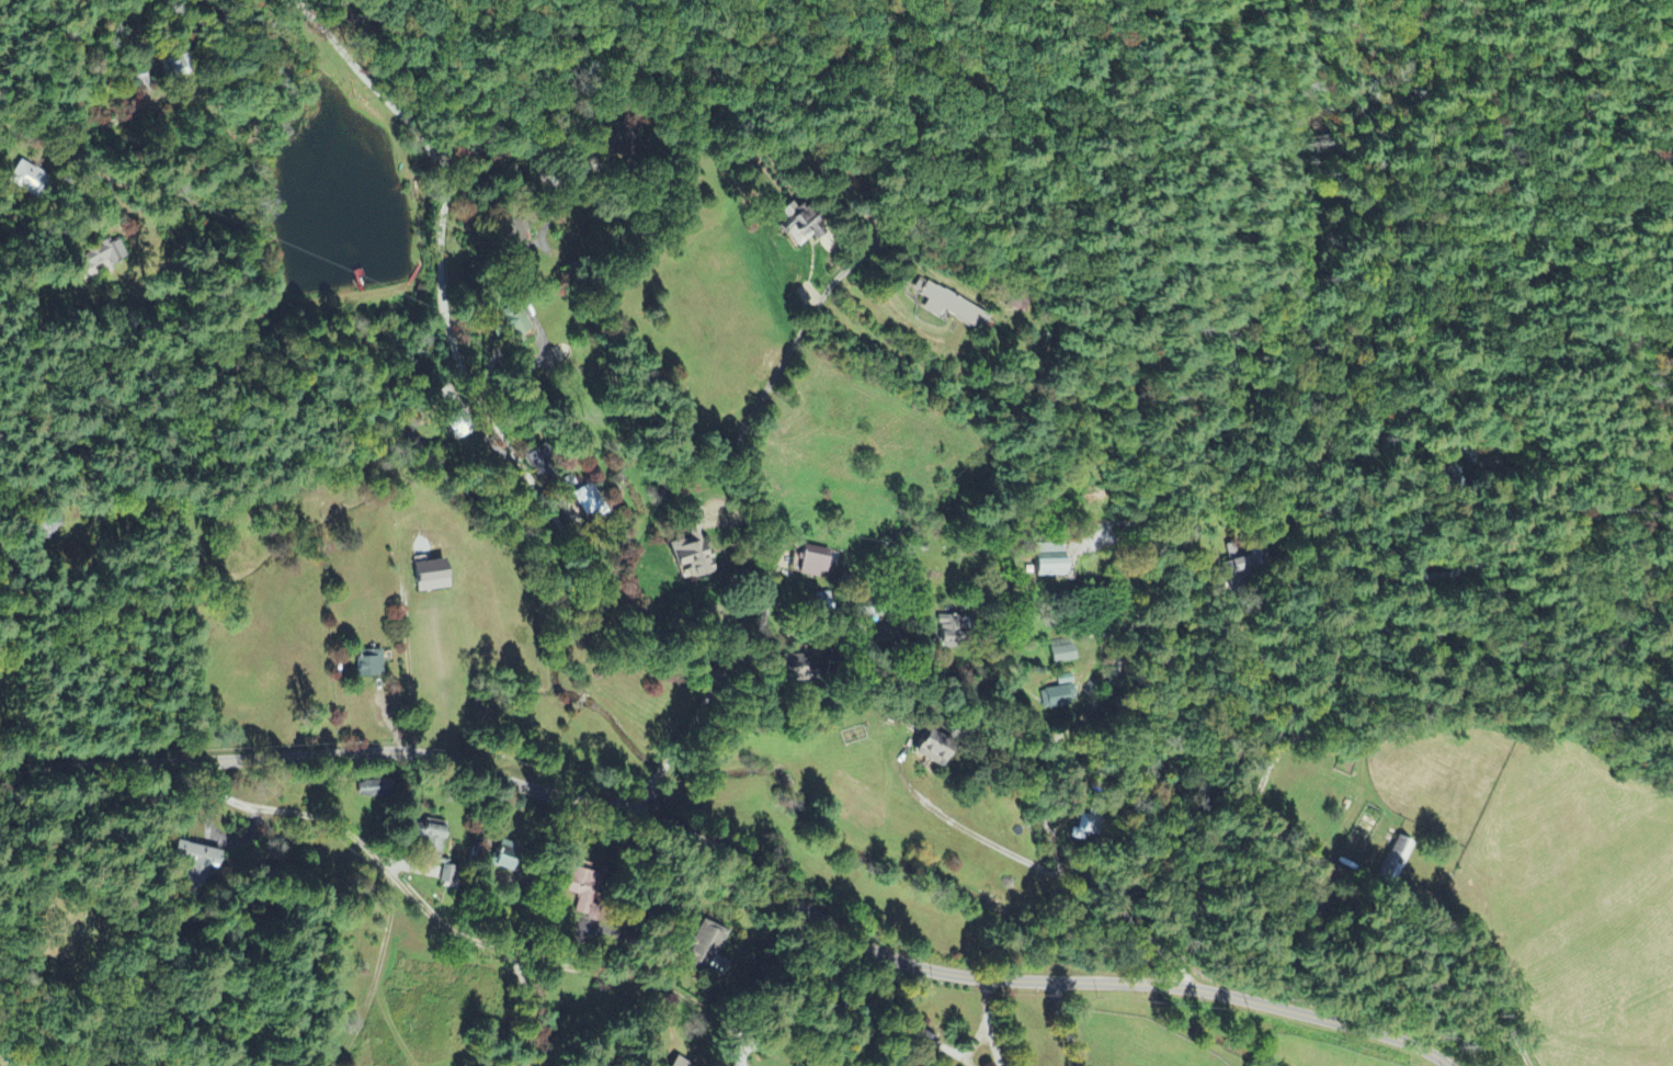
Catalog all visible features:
road: (53, 53)
road: (534, 163)
building: (27, 181)
road: (138, 207)
building: (801, 228)
building: (100, 258)
building: (951, 307)
building: (520, 324)
road: (454, 375)
road: (748, 430)
building: (543, 466)
building: (569, 484)
building: (591, 504)
building: (695, 558)
building: (1049, 562)
building: (817, 564)
building: (1233, 569)
building: (436, 578)
road: (971, 605)
building: (949, 632)
building: (1063, 654)
building: (374, 665)
building: (1066, 682)
building: (1059, 699)
road: (924, 716)
road: (669, 736)
building: (935, 751)
road: (1211, 763)
building: (377, 790)
building: (439, 835)
building: (198, 858)
building: (512, 858)
building: (1399, 862)
road: (736, 863)
building: (453, 878)
building: (589, 894)
road: (448, 925)
road: (1131, 926)
park: (73, 932)
building: (712, 945)
road: (378, 974)
road: (527, 1007)
road: (988, 1011)
road: (1070, 1017)
building: (682, 1063)

